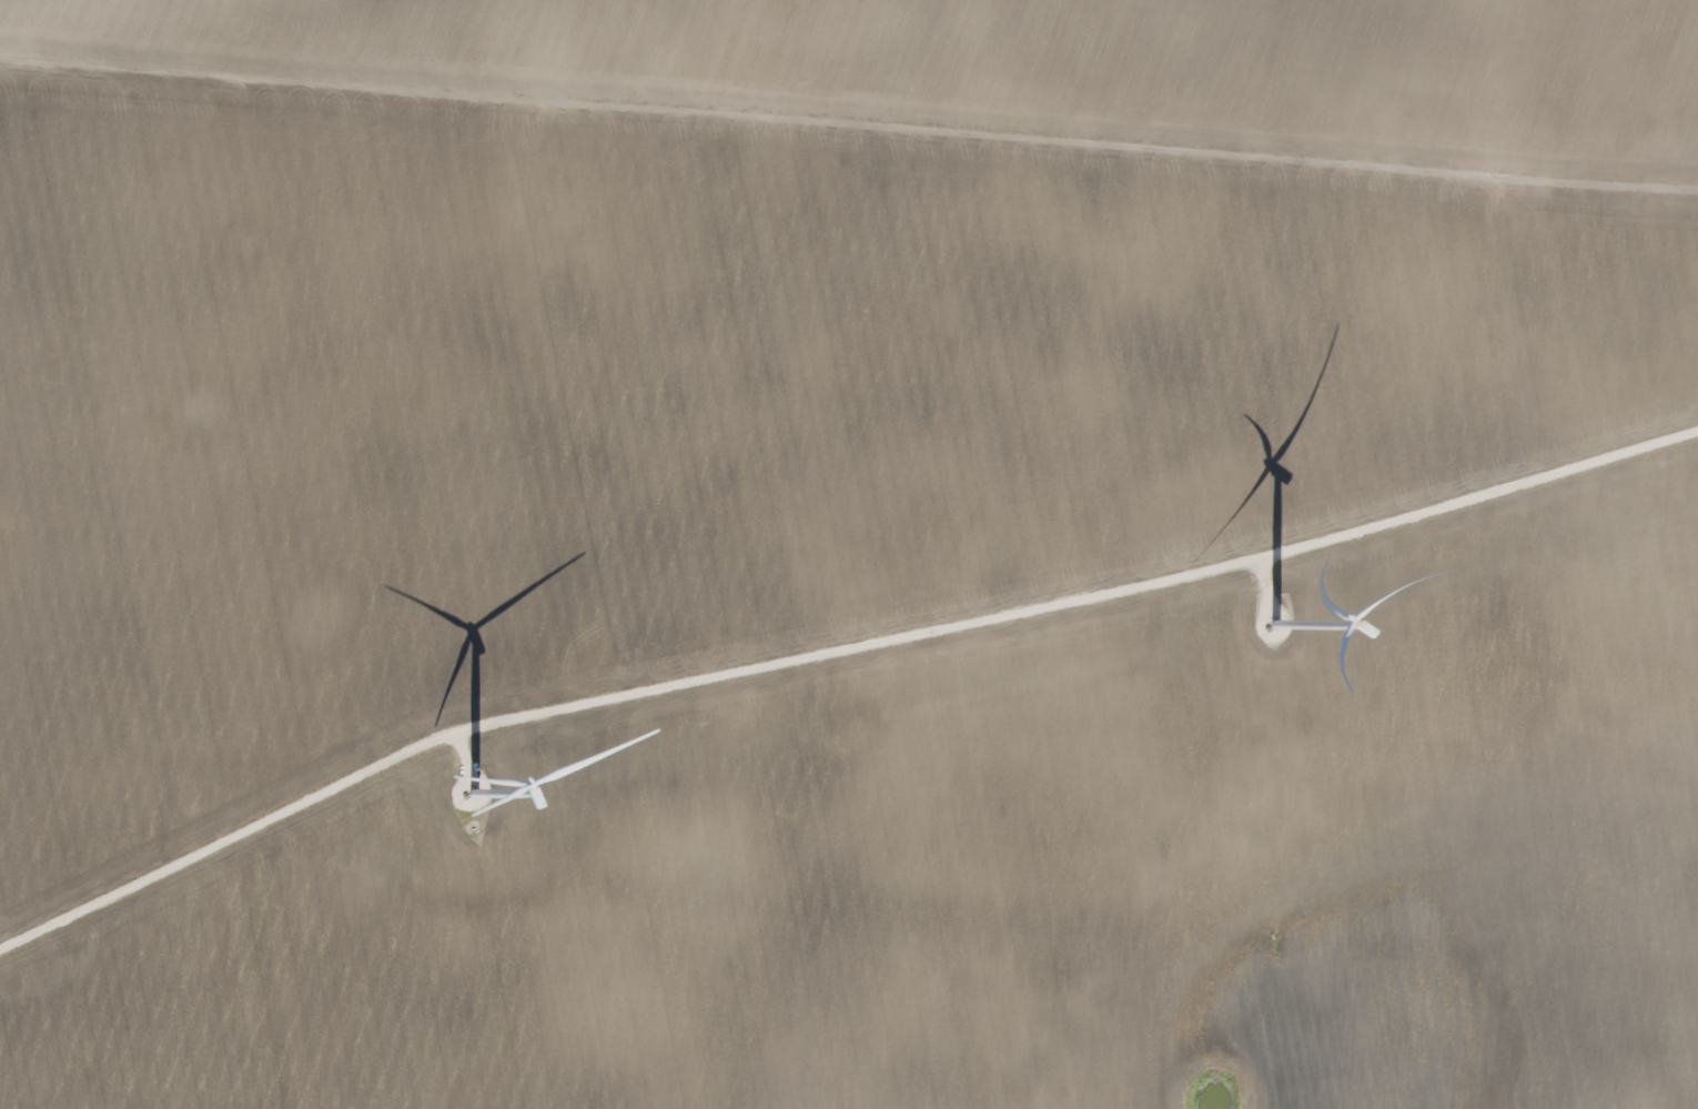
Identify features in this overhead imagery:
wind turbine: (1274, 624)
wind turbine: (473, 793)

